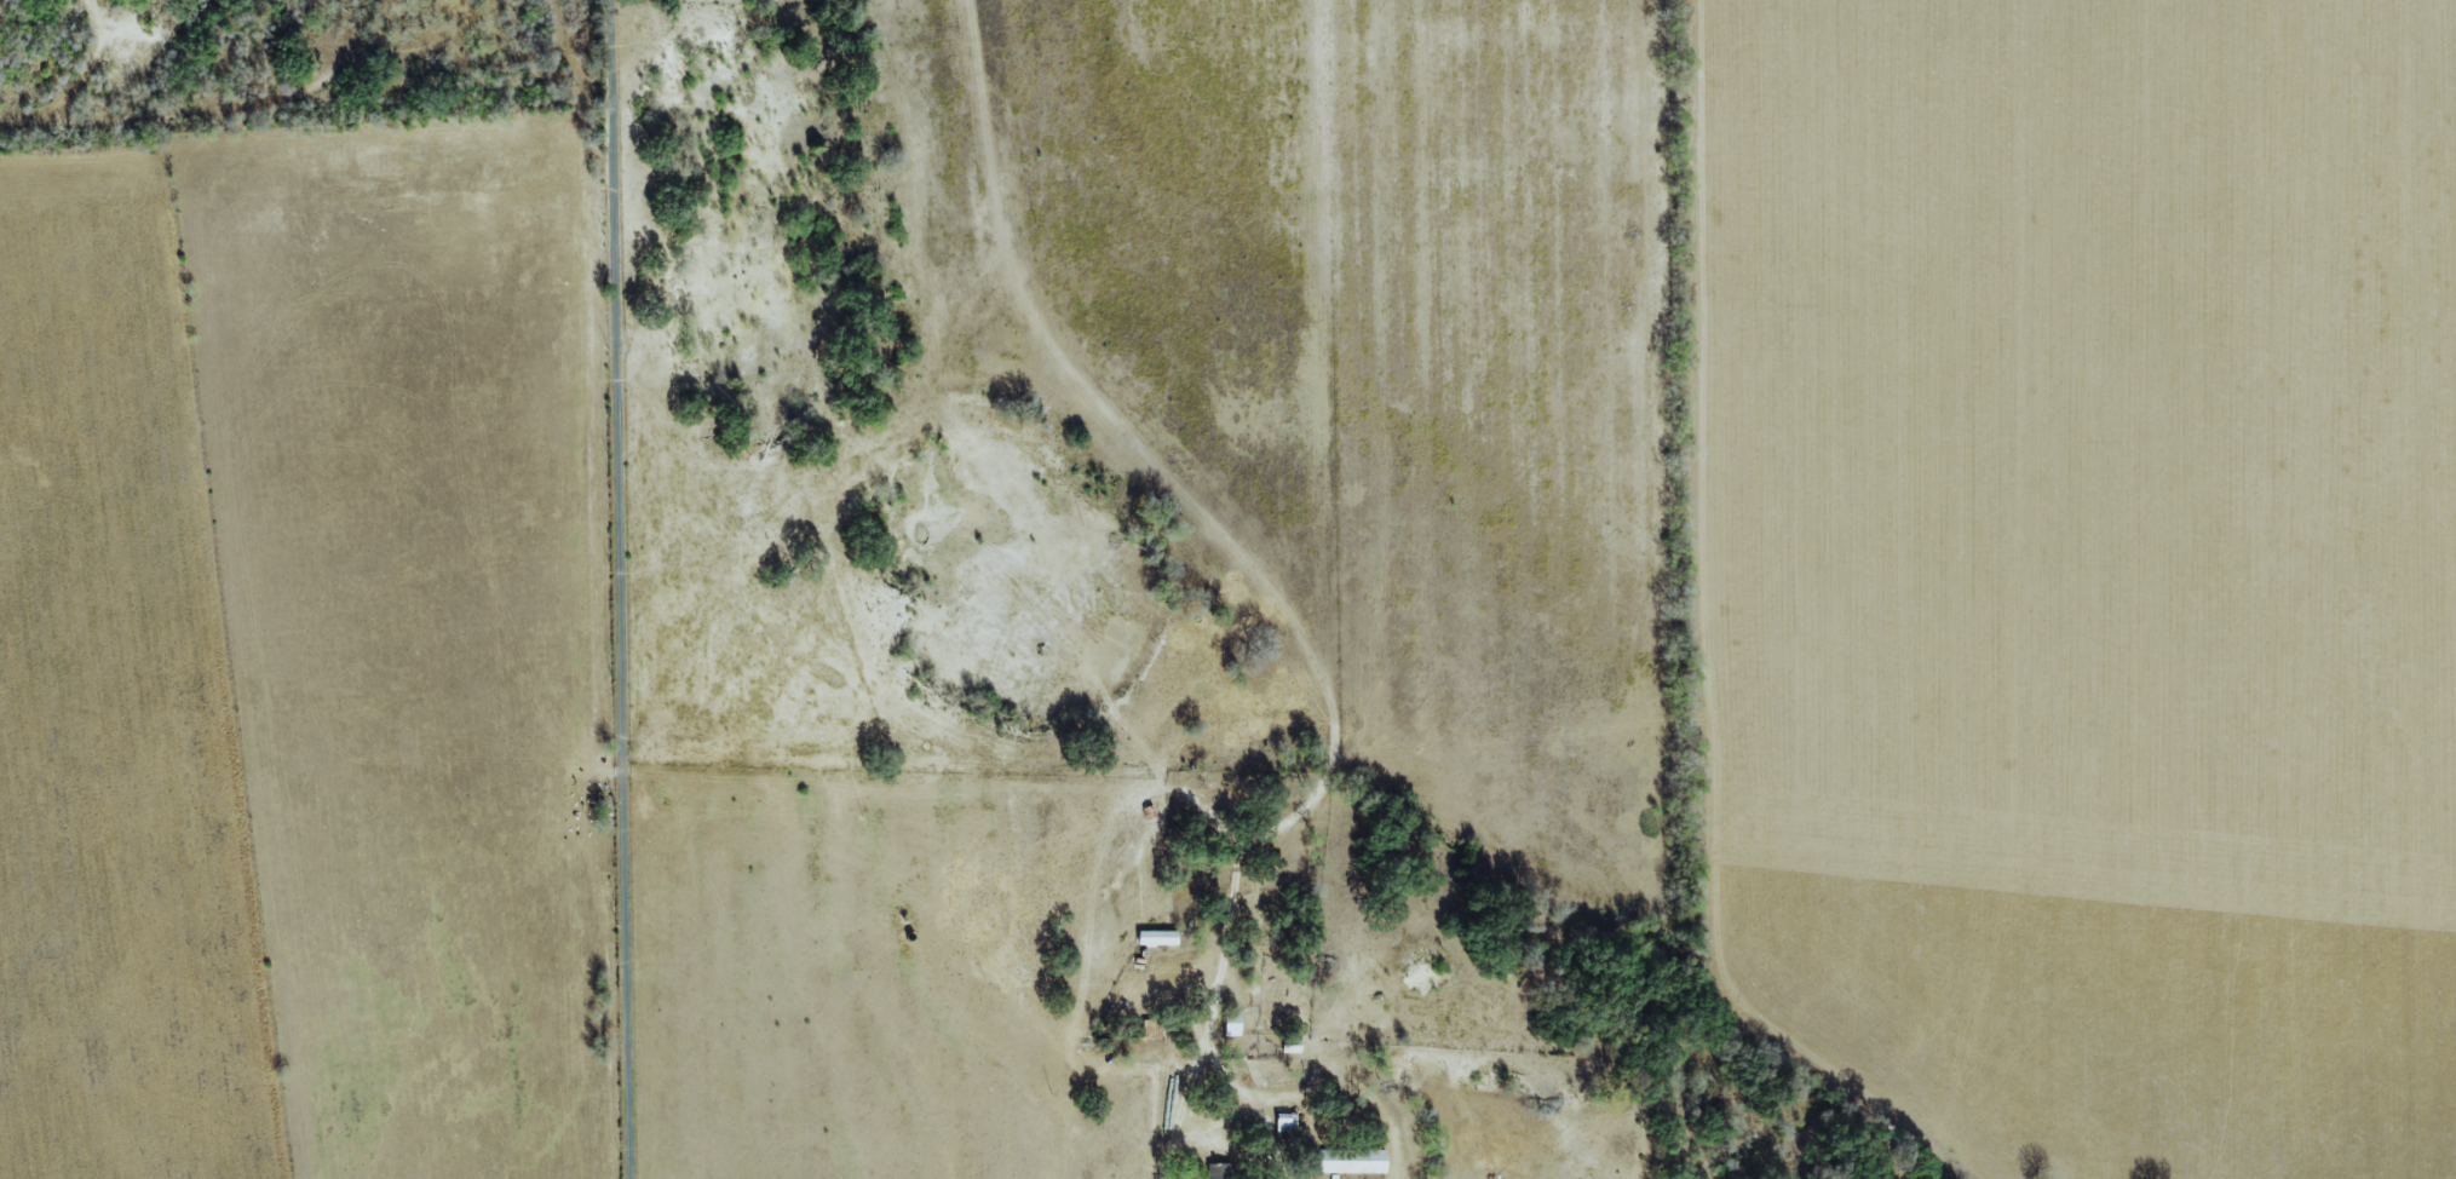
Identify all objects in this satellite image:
road: (616, 589)
crop: (413, 623)
crop: (117, 706)
building: (1158, 937)
building: (1232, 1023)
building: (1284, 1120)
building: (1353, 1161)
building: (1219, 1171)
road: (1160, 1177)

